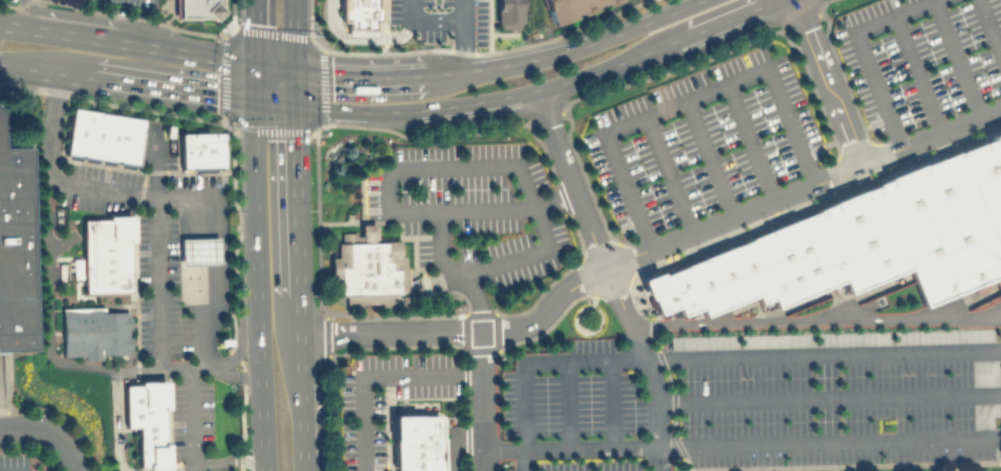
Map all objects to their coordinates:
parking lot: (135, 2)
building: (198, 8)
building: (359, 12)
building: (507, 12)
road: (38, 15)
parking lot: (440, 18)
road: (426, 19)
road: (717, 22)
road: (989, 28)
road: (256, 31)
road: (360, 34)
road: (462, 34)
road: (293, 35)
road: (128, 42)
road: (570, 48)
road: (861, 49)
parking lot: (920, 56)
road: (957, 59)
traffic signals: (256, 63)
road: (275, 66)
traffic signals: (294, 70)
road: (29, 71)
road: (918, 74)
road: (363, 75)
road: (825, 82)
road: (256, 83)
road: (294, 88)
road: (156, 90)
road: (482, 100)
road: (686, 100)
traffic signals: (256, 104)
road: (275, 105)
traffic signals: (294, 107)
building: (103, 135)
road: (930, 135)
parking lot: (702, 140)
road: (751, 141)
building: (200, 150)
fountain: (333, 152)
road: (709, 158)
road: (156, 162)
road: (454, 164)
road: (669, 173)
building: (988, 173)
road: (257, 183)
road: (296, 185)
road: (171, 197)
road: (553, 198)
parking lot: (470, 208)
building: (941, 225)
building: (859, 237)
building: (15, 249)
building: (198, 251)
gas station: (198, 251)
building: (104, 254)
building: (793, 258)
building: (366, 267)
road: (454, 272)
road: (608, 277)
building: (724, 277)
road: (298, 279)
road: (582, 279)
road: (158, 283)
building: (669, 290)
road: (47, 300)
road: (576, 307)
road: (299, 315)
road: (815, 321)
road: (242, 326)
building: (94, 332)
road: (707, 356)
road: (262, 366)
road: (181, 369)
road: (232, 376)
road: (374, 377)
road: (301, 396)
road: (116, 399)
road: (828, 400)
road: (481, 401)
road: (613, 402)
road: (569, 403)
parking lot: (745, 410)
parking lot: (189, 415)
road: (190, 418)
building: (147, 420)
road: (36, 426)
parking lot: (363, 433)
road: (993, 436)
road: (453, 438)
building: (415, 442)
road: (733, 444)
road: (72, 457)
road: (229, 459)
parking lot: (15, 462)
road: (303, 464)
road: (11, 469)
road: (185, 469)

